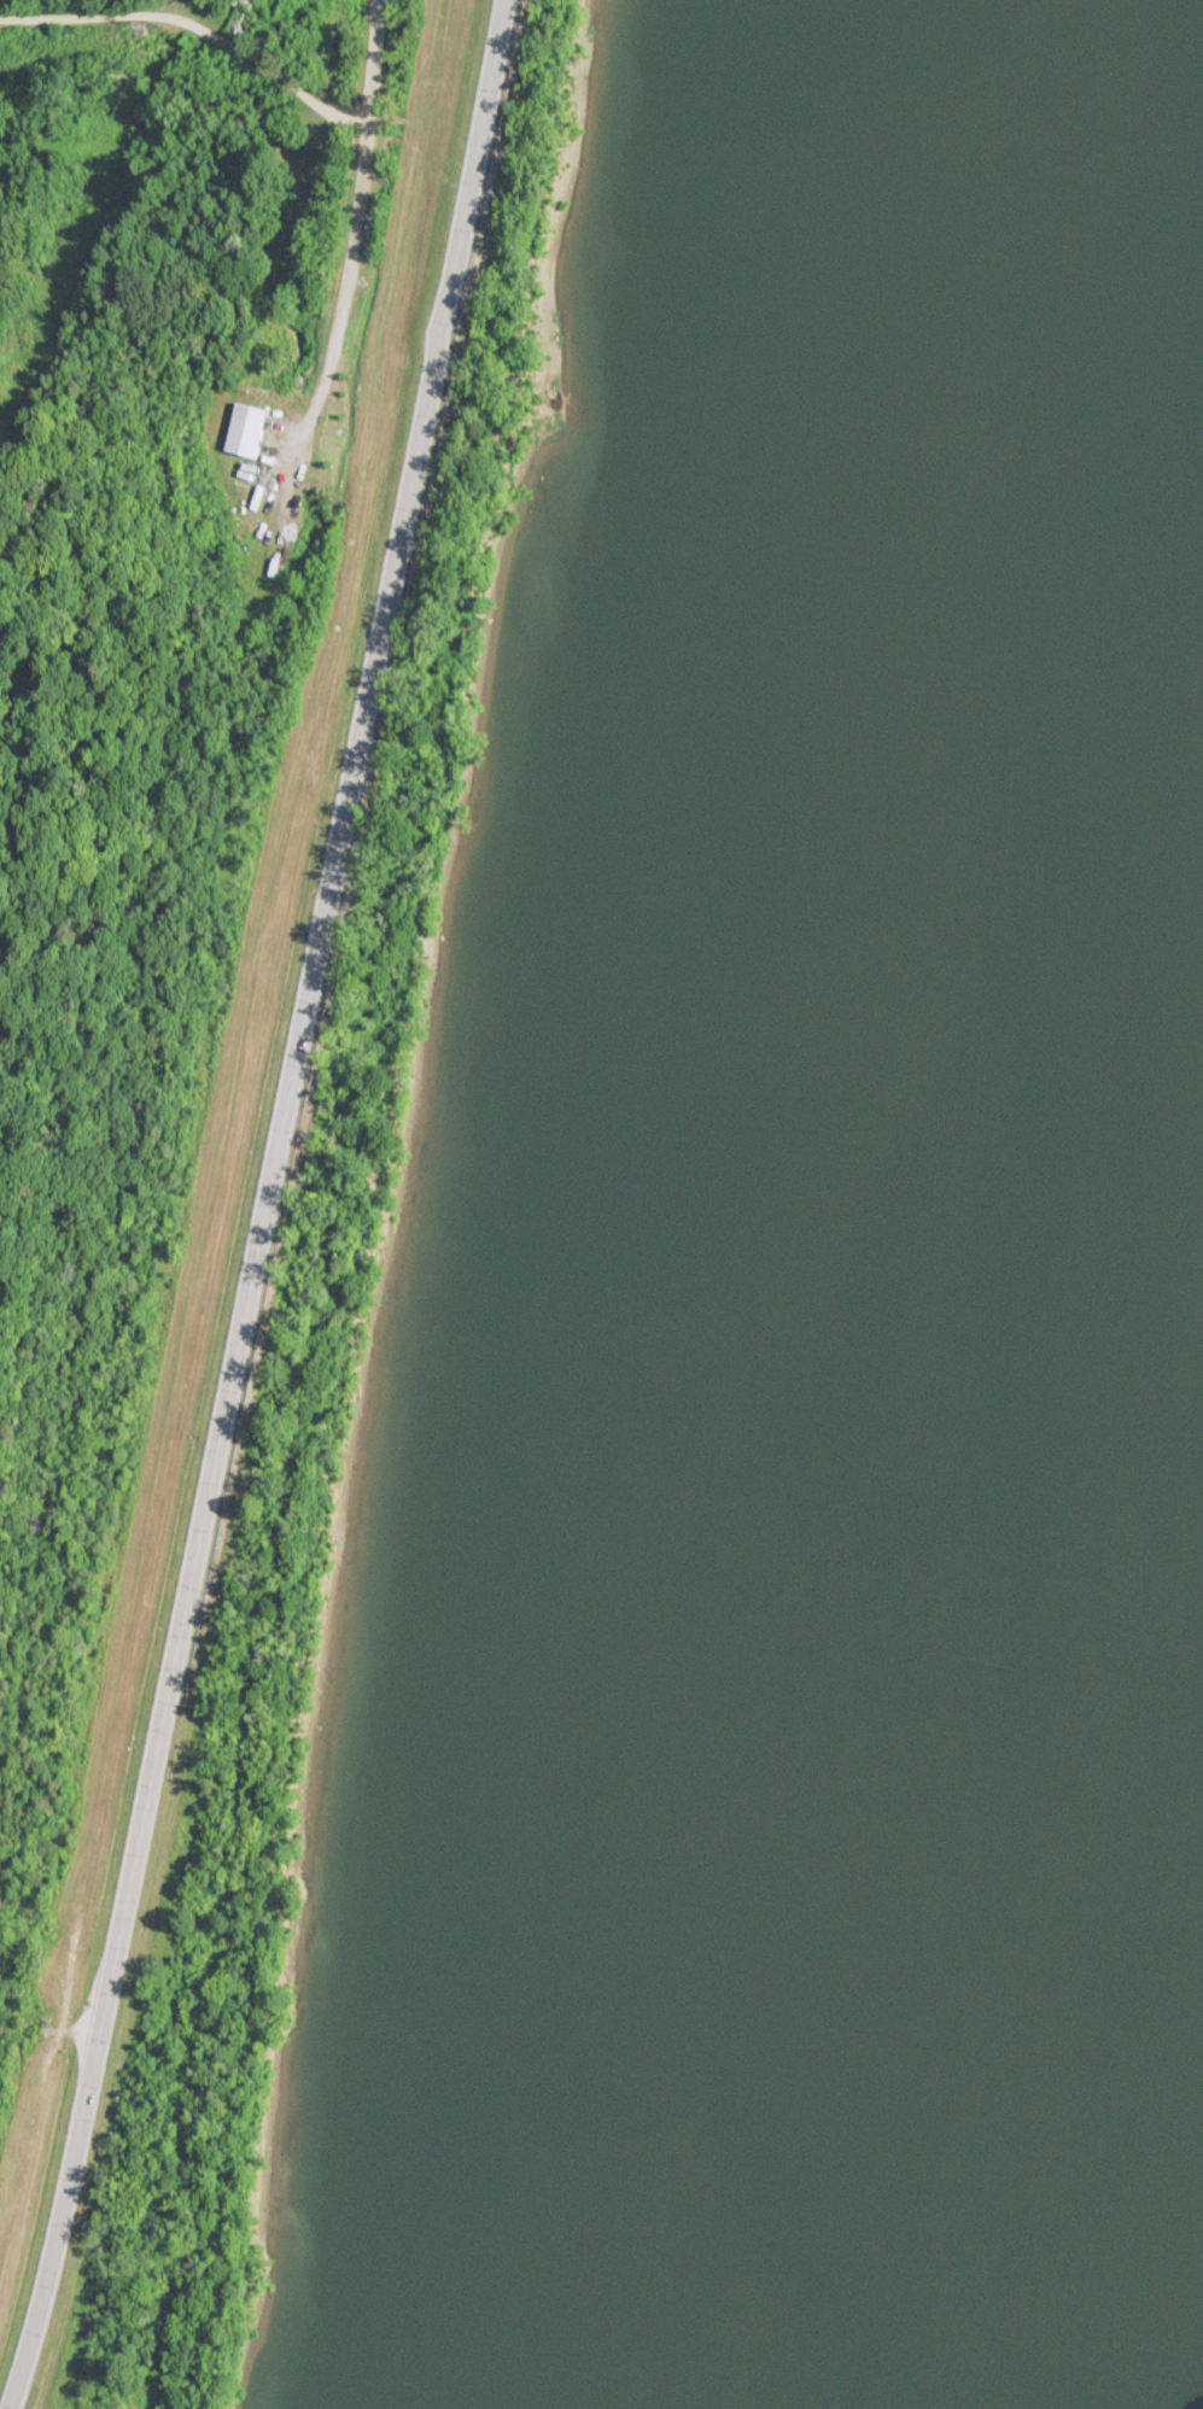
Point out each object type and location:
building: (244, 24)
road: (195, 27)
road: (356, 227)
building: (246, 429)
river: (915, 1192)
road: (273, 1206)

